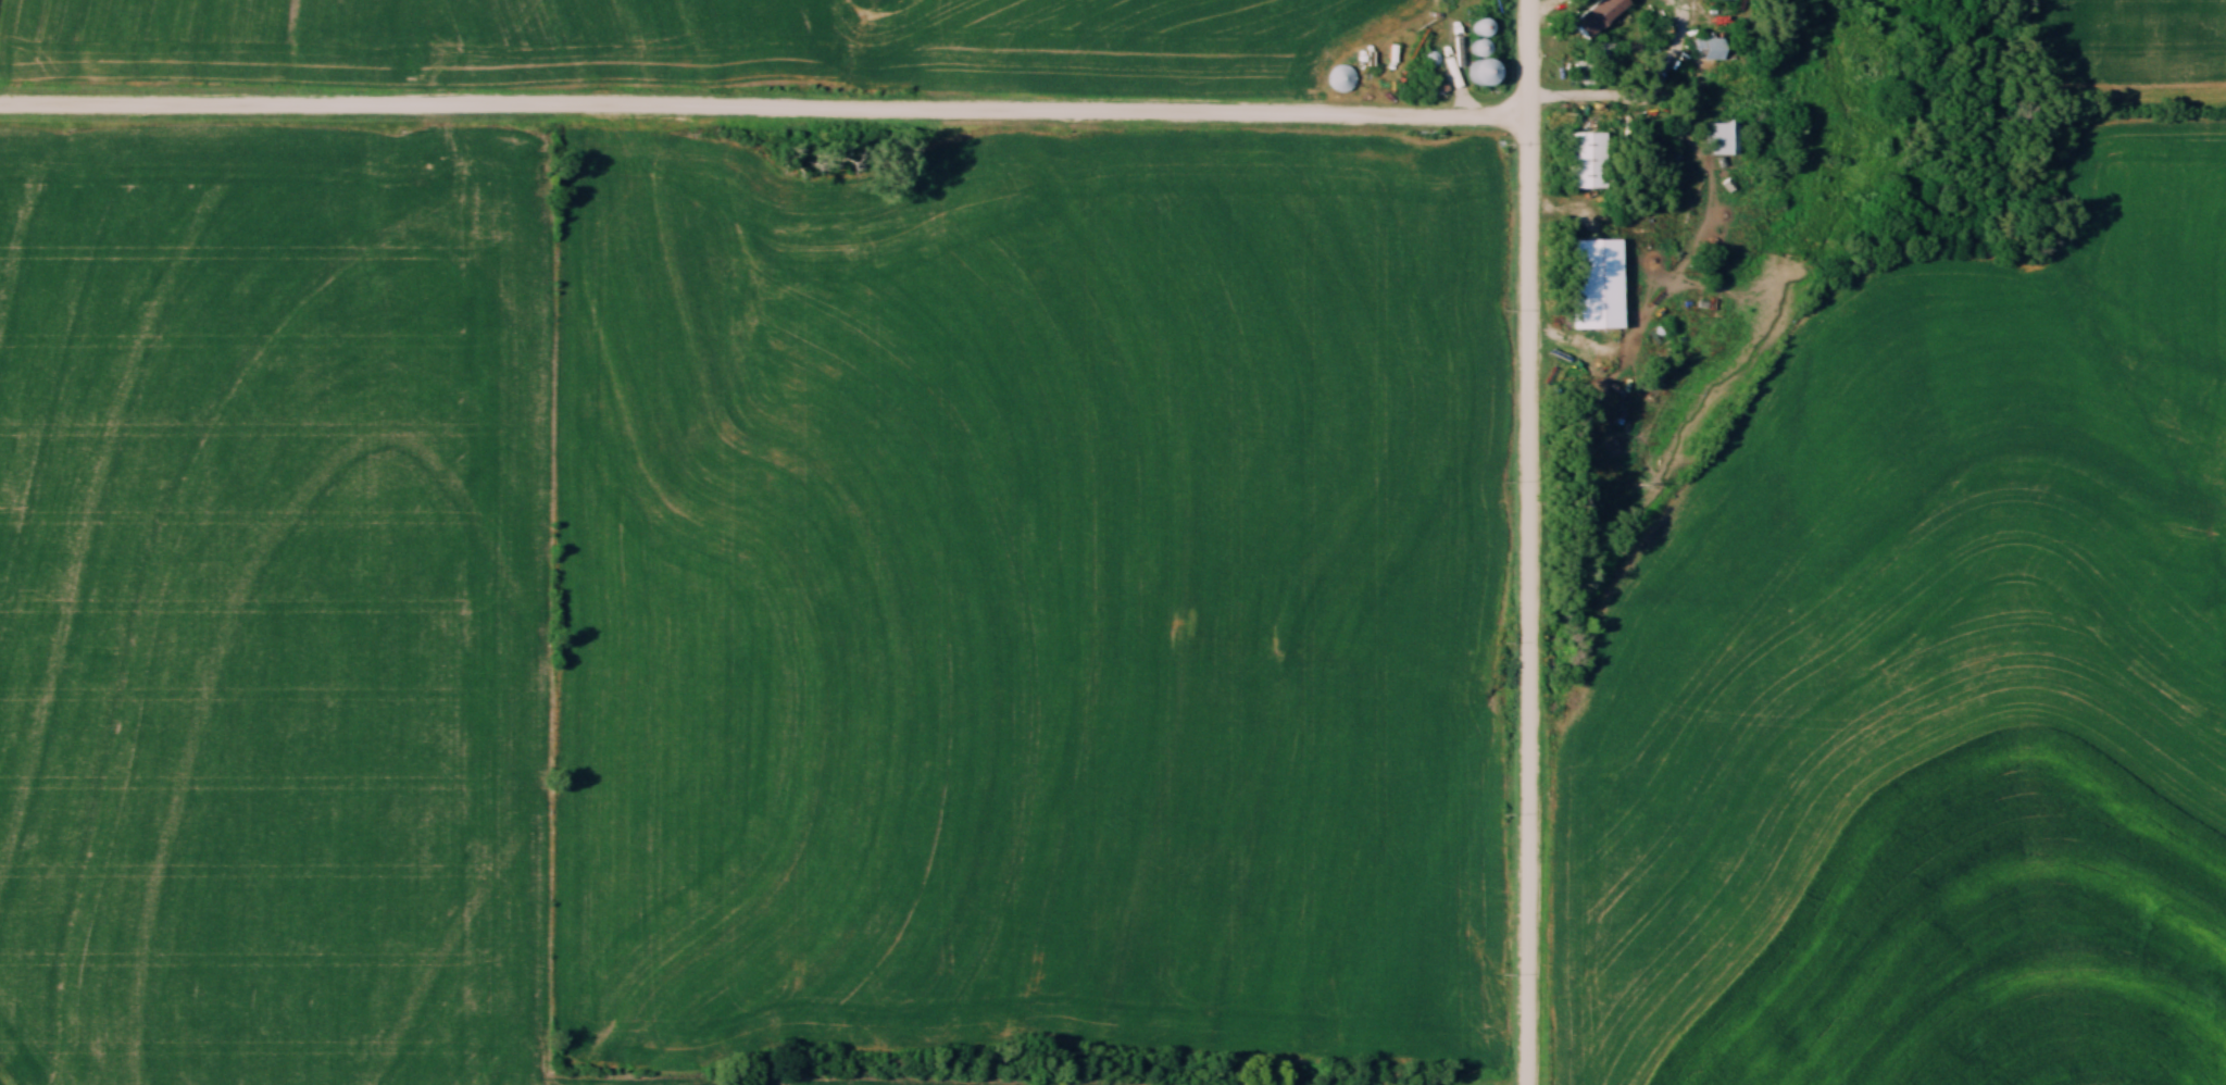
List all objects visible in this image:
building: (1597, 20)
building: (1713, 50)
road: (1617, 104)
road: (765, 111)
building: (1724, 138)
building: (1589, 160)
road: (1527, 541)

